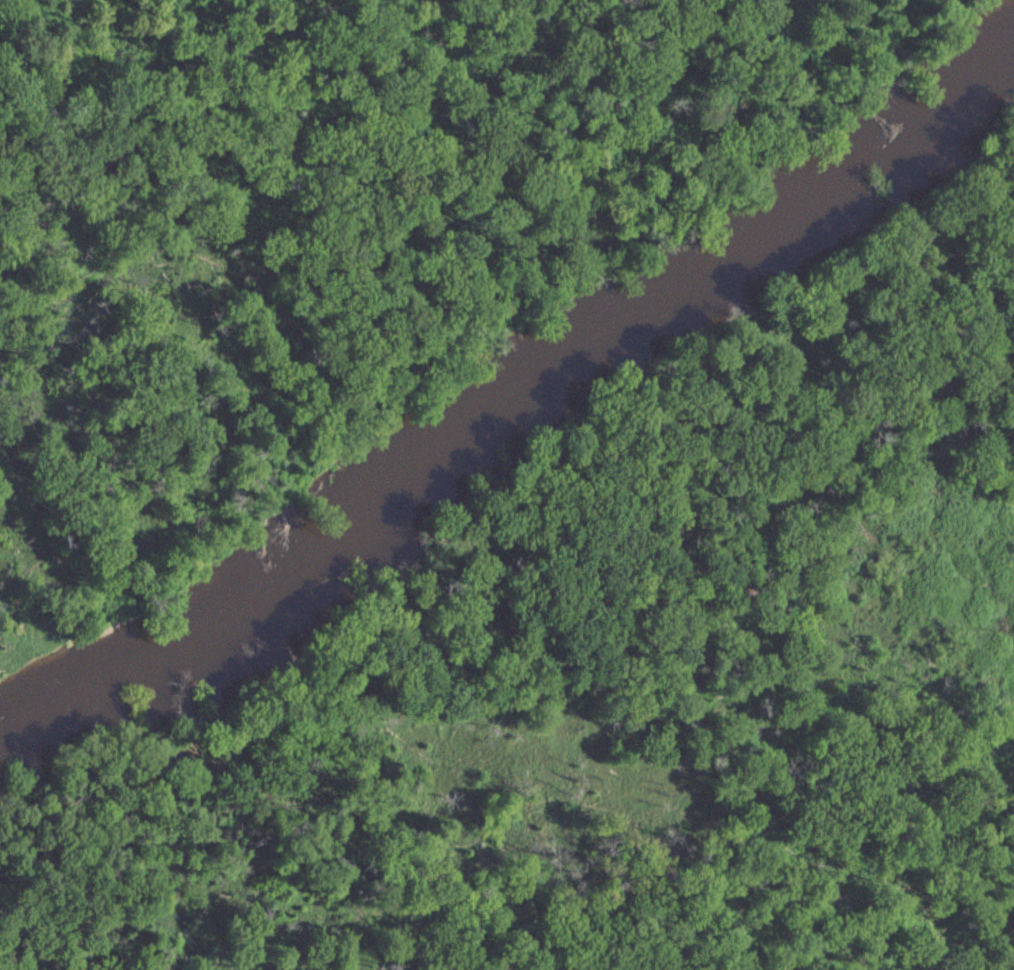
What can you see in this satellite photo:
river: (511, 423)

